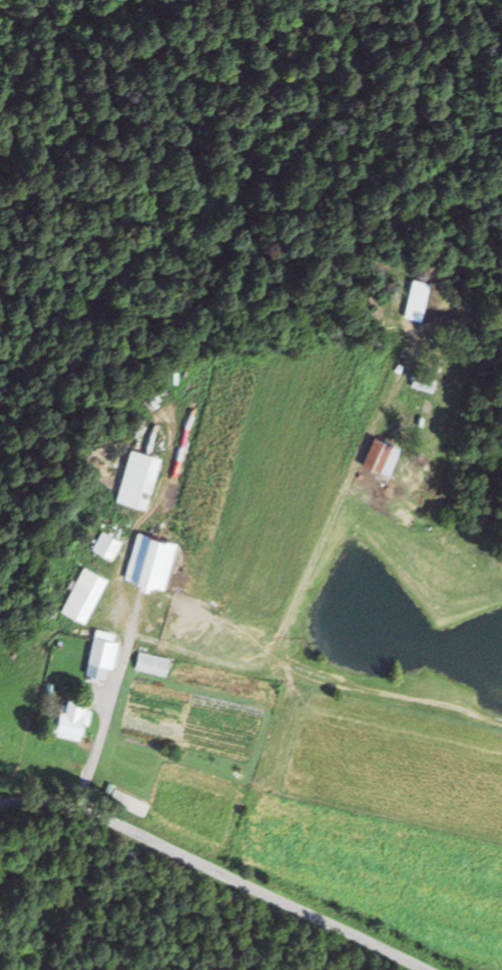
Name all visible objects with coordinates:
road: (214, 874)

